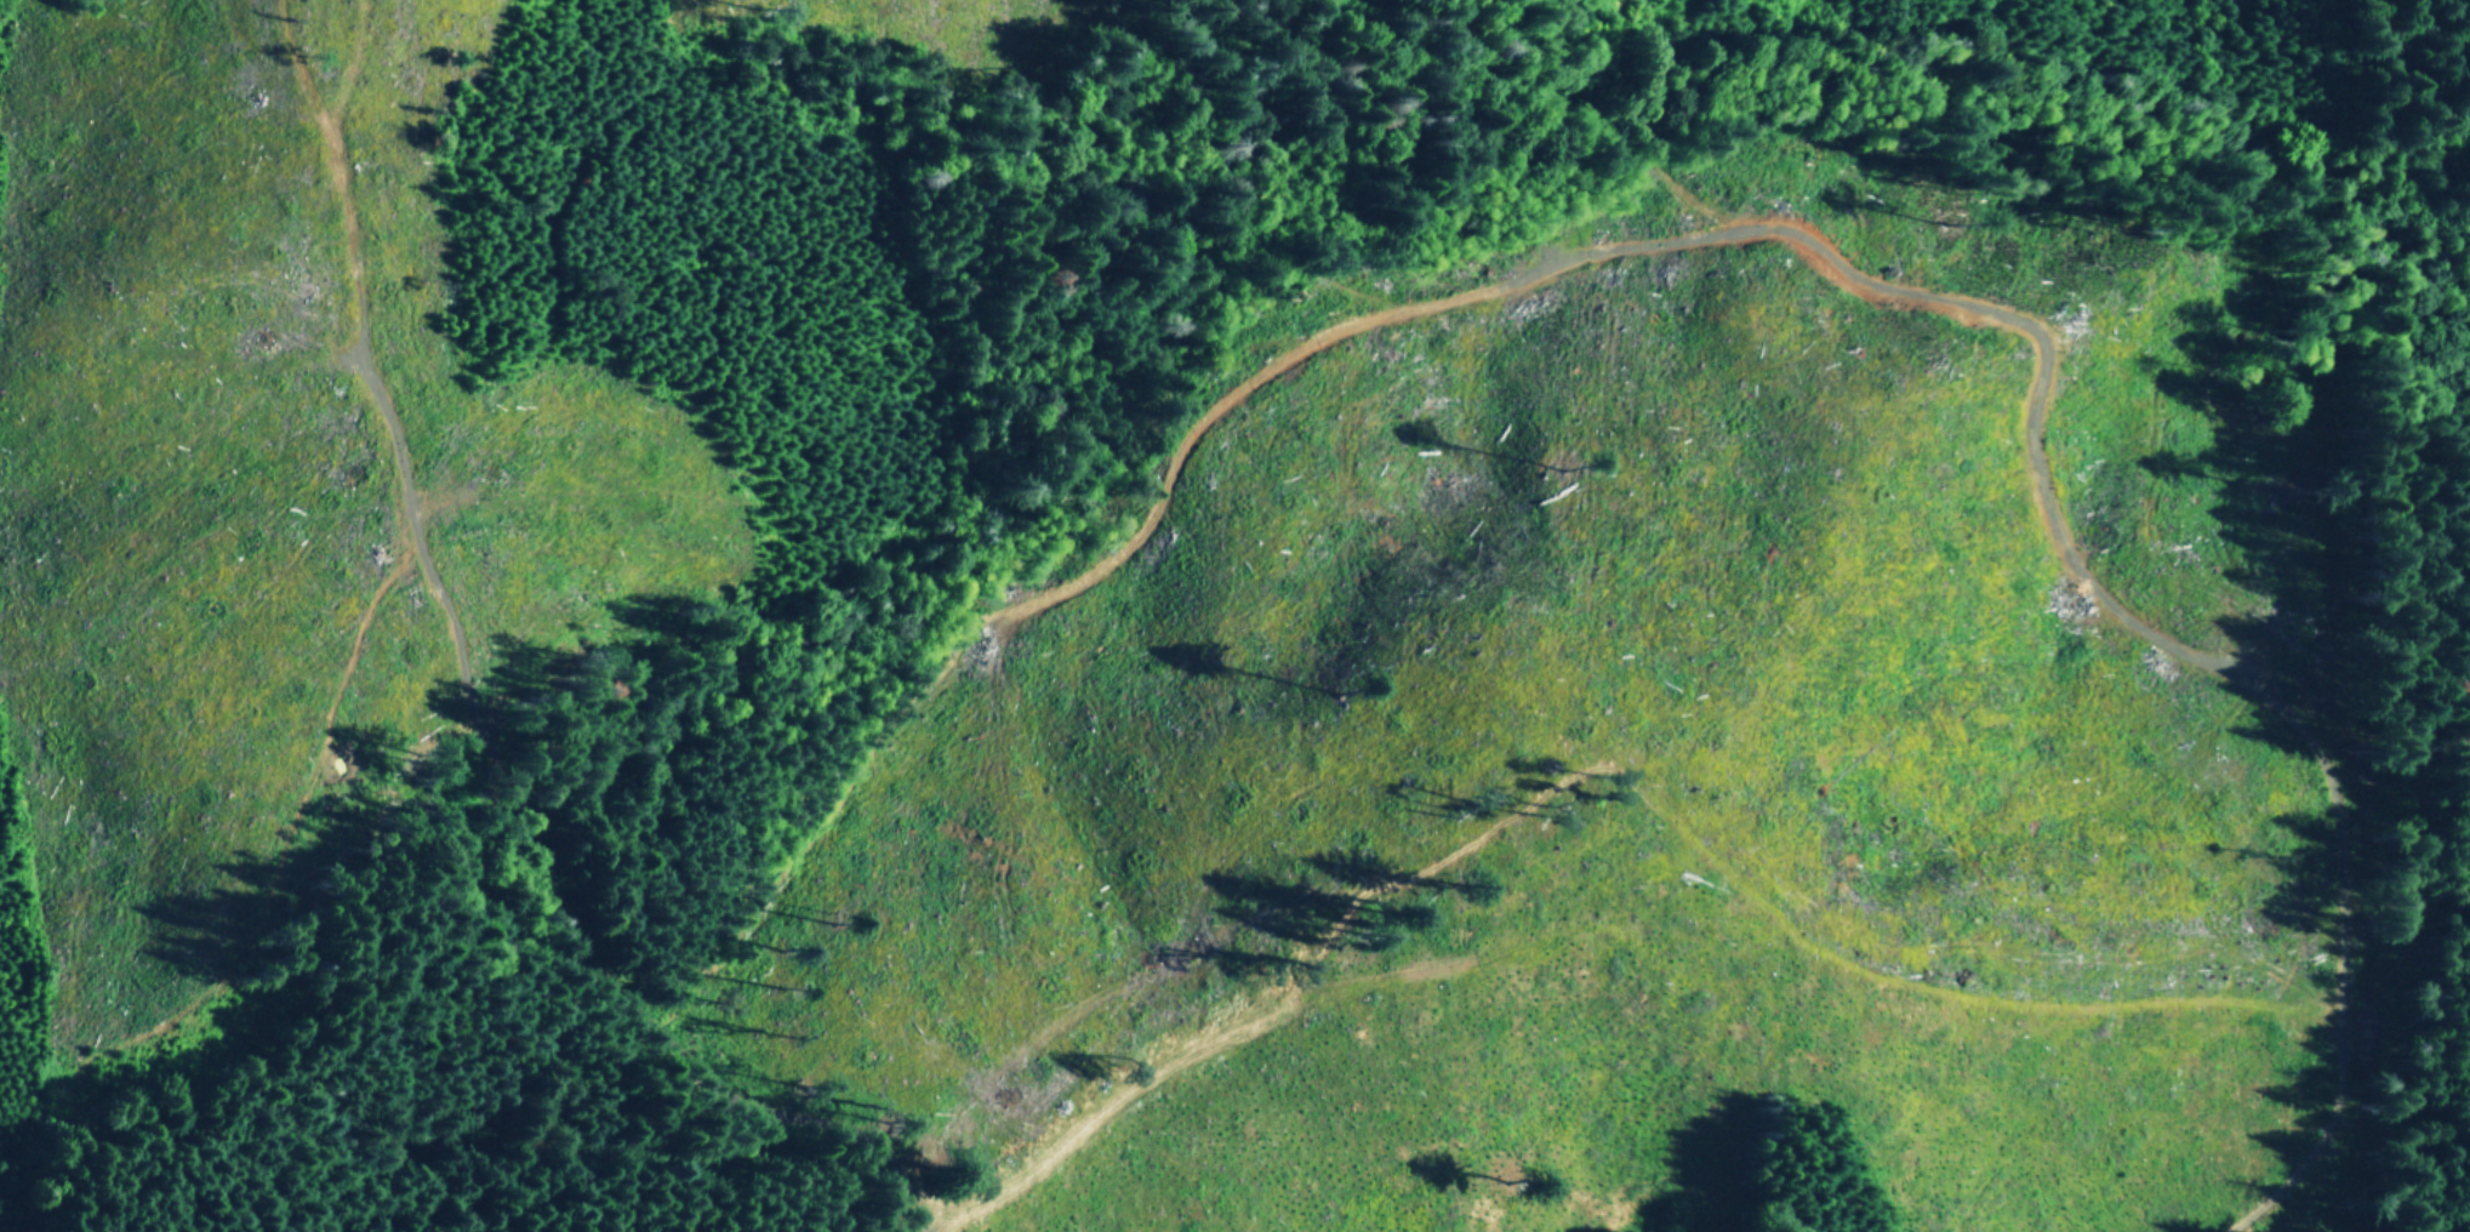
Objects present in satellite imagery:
crop: (1778, 1074)

